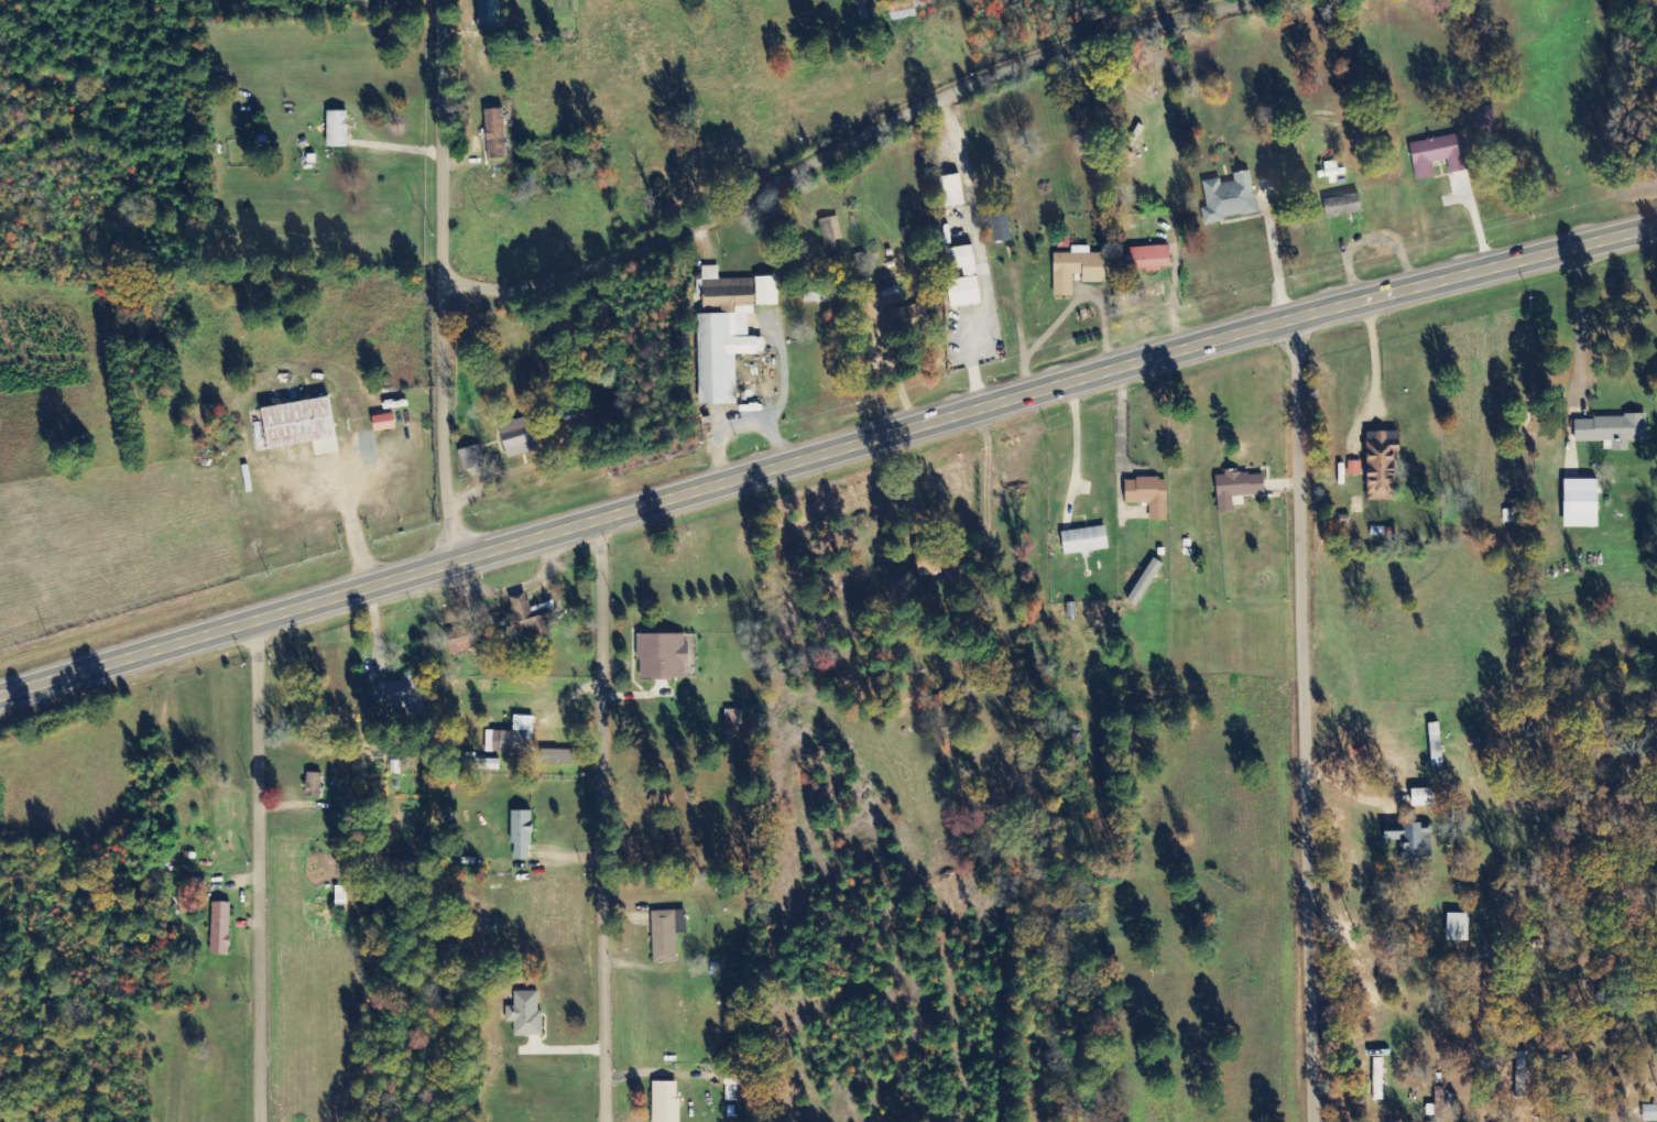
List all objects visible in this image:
building: (906, 9)
building: (488, 14)
building: (337, 130)
building: (495, 134)
road: (443, 143)
road: (852, 146)
building: (1438, 155)
building: (952, 190)
building: (1229, 197)
building: (1343, 205)
building: (1000, 227)
building: (830, 233)
building: (1148, 259)
building: (1077, 269)
building: (970, 273)
building: (766, 291)
building: (819, 297)
building: (890, 309)
building: (724, 335)
building: (384, 423)
road: (445, 423)
building: (1611, 431)
building: (519, 437)
road: (826, 450)
building: (472, 457)
building: (1382, 464)
building: (1354, 468)
building: (1238, 488)
building: (1148, 495)
building: (1581, 503)
building: (1084, 540)
building: (1145, 581)
building: (532, 617)
building: (462, 641)
building: (663, 656)
road: (1304, 718)
building: (733, 721)
building: (511, 737)
building: (558, 756)
building: (480, 764)
building: (314, 785)
building: (1421, 797)
road: (602, 819)
building: (521, 835)
building: (1409, 838)
road: (258, 870)
building: (1458, 927)
building: (220, 928)
building: (666, 935)
building: (525, 1013)
building: (1378, 1079)
building: (666, 1101)
building: (1649, 1113)

